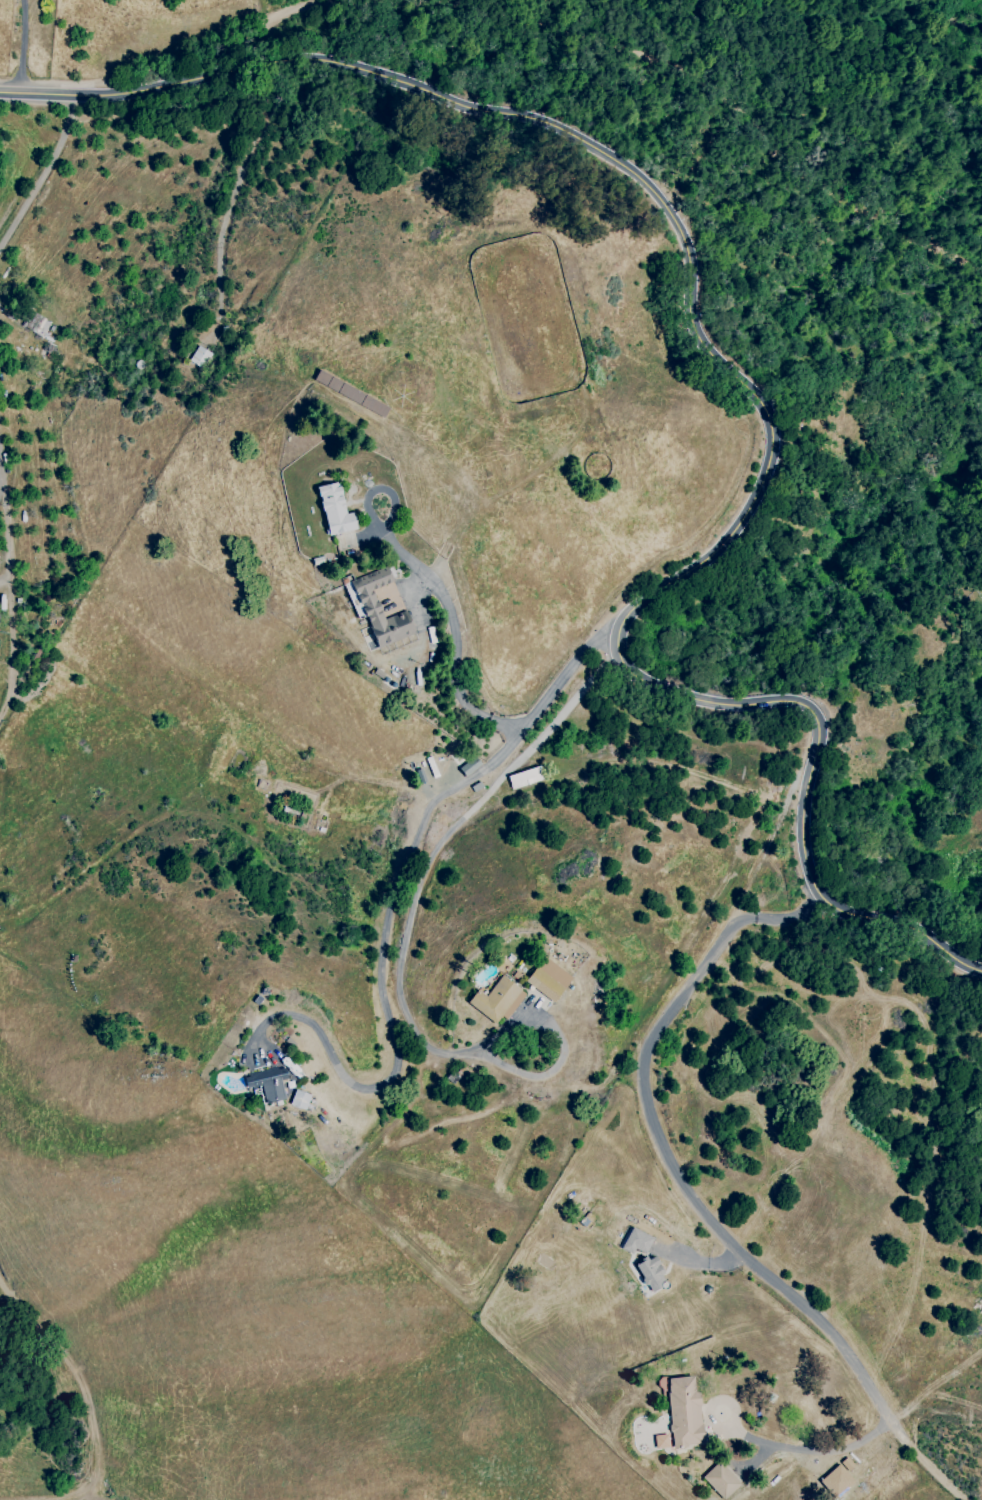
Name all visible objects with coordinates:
road: (21, 46)
road: (550, 54)
road: (60, 94)
road: (42, 173)
building: (200, 357)
communications tower: (201, 382)
road: (773, 439)
building: (343, 511)
road: (9, 594)
building: (385, 611)
road: (457, 667)
road: (394, 900)
road: (402, 952)
building: (551, 979)
building: (500, 1000)
building: (269, 1085)
building: (299, 1099)
road: (692, 1199)
building: (639, 1241)
building: (655, 1274)
building: (686, 1411)
building: (663, 1441)
road: (821, 1453)
building: (723, 1480)
building: (839, 1482)

